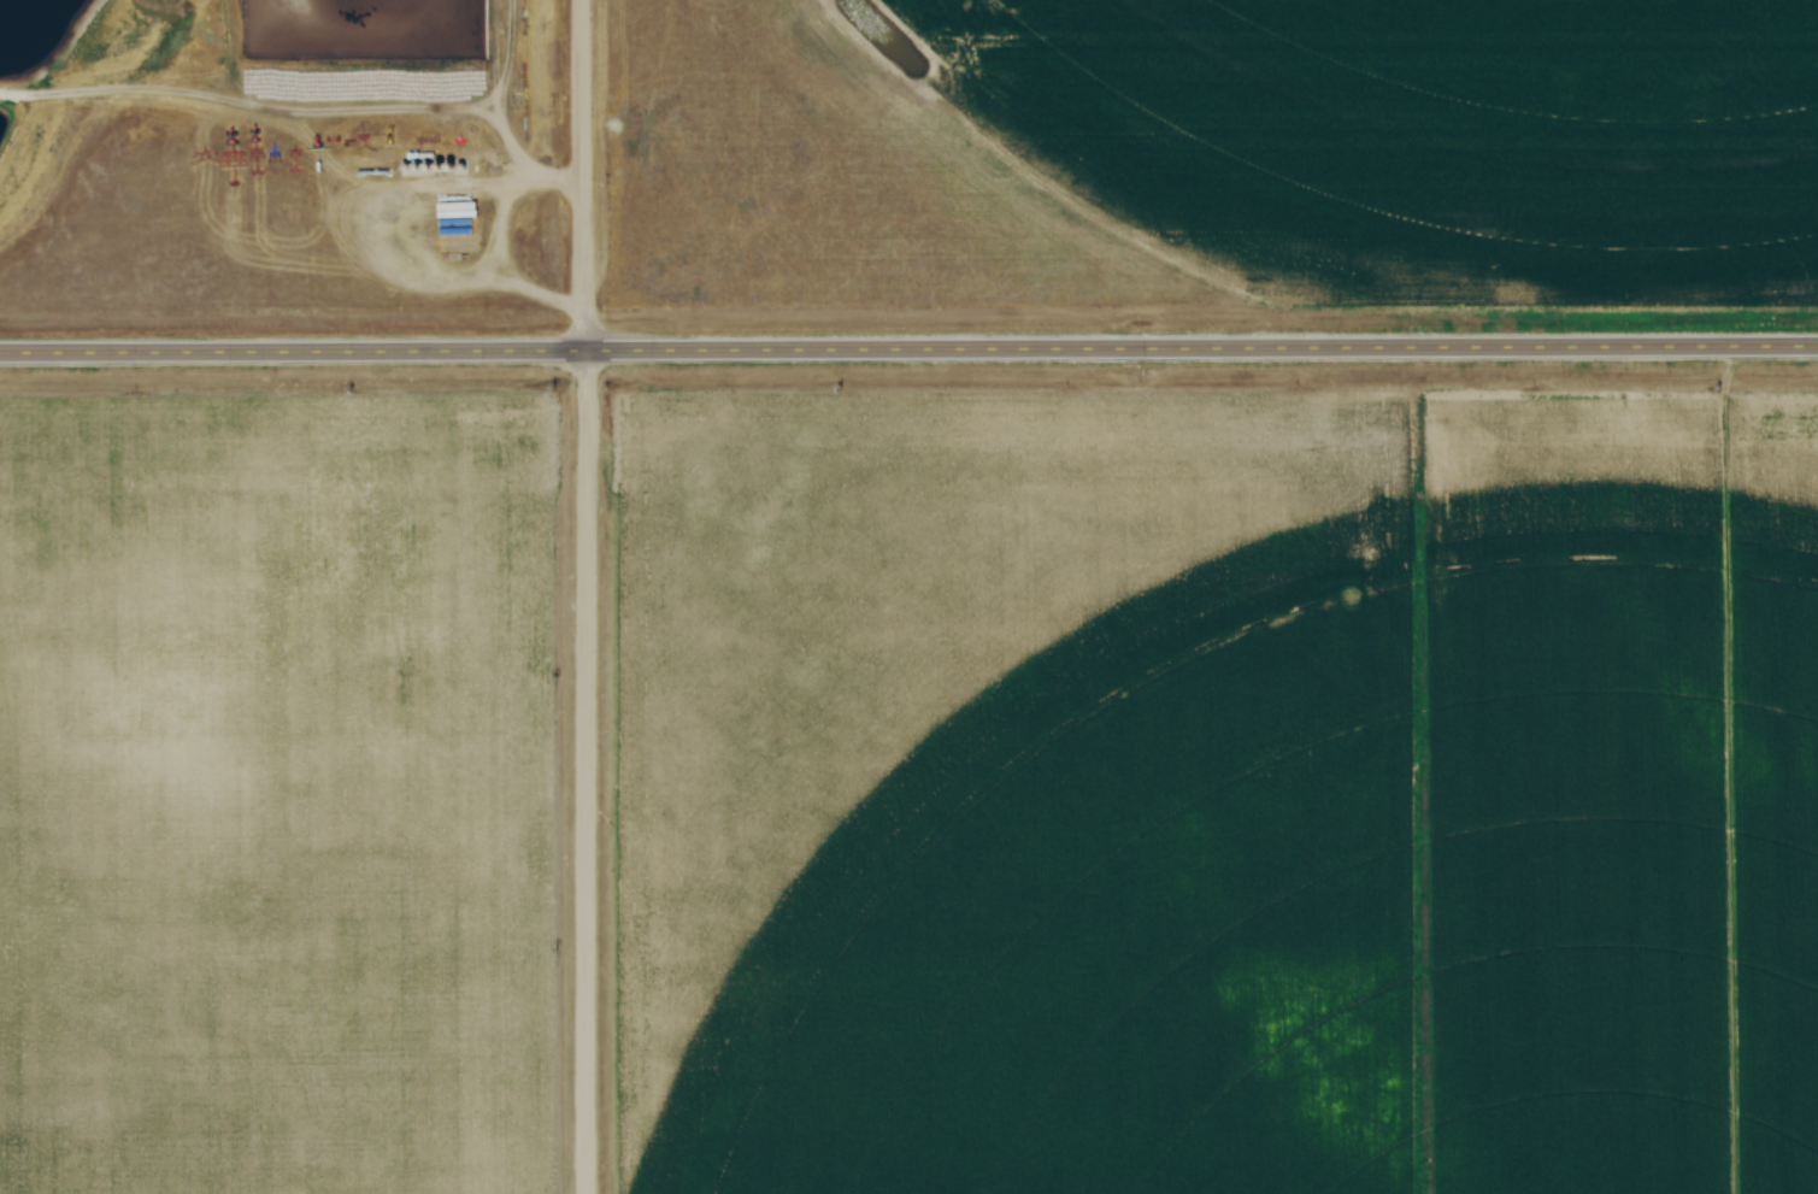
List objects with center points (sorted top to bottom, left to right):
building: (441, 166)
silo: (441, 166)
building: (411, 167)
silo: (411, 167)
building: (420, 167)
silo: (420, 167)
building: (430, 167)
silo: (430, 167)
building: (452, 167)
silo: (452, 167)
building: (465, 167)
silo: (465, 167)
road: (510, 180)
road: (500, 234)
road: (908, 351)
road: (587, 596)

